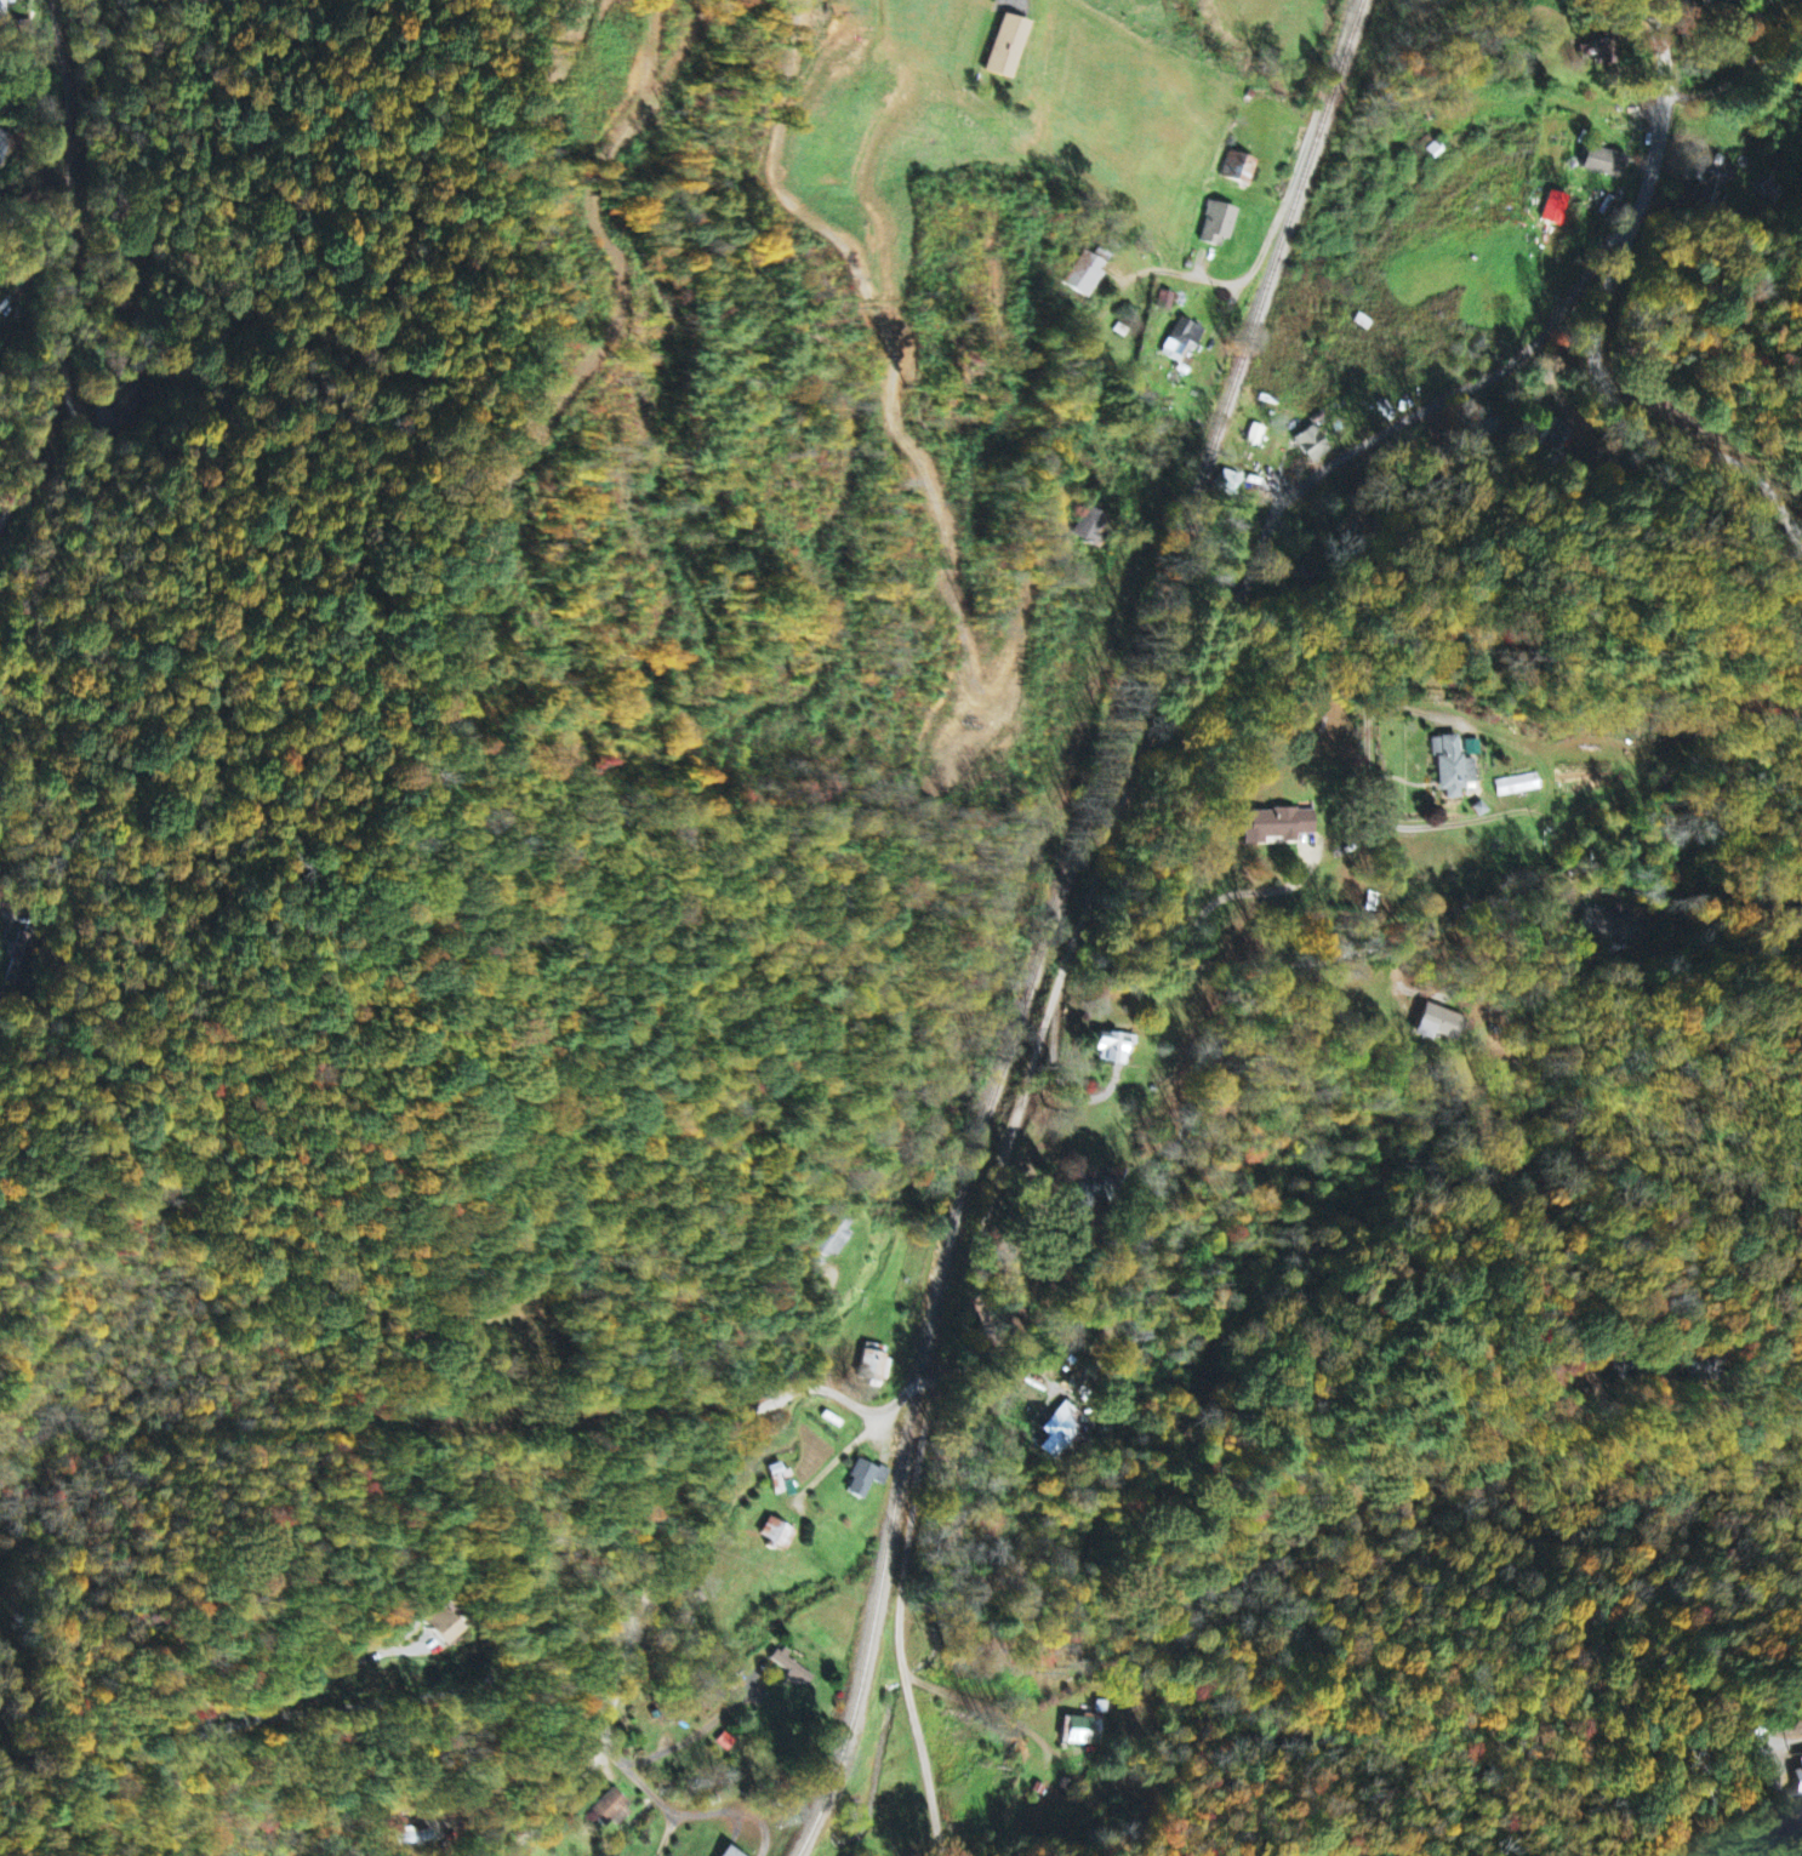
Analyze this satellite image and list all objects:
road: (1019, 2)
building: (6, 6)
building: (1007, 48)
building: (1604, 56)
building: (5, 147)
building: (1433, 152)
building: (1604, 164)
building: (1239, 170)
building: (1716, 181)
building: (1218, 227)
road: (69, 269)
building: (1089, 275)
road: (1211, 279)
road: (1601, 315)
building: (1182, 348)
building: (125, 401)
building: (1311, 446)
building: (1230, 481)
road: (1435, 535)
building: (1452, 770)
building: (1517, 786)
building: (1277, 824)
railway: (1055, 921)
building: (1606, 925)
building: (1438, 1023)
building: (1113, 1047)
road: (1170, 1096)
road: (1033, 1102)
park: (520, 1337)
building: (871, 1364)
building: (1066, 1429)
building: (865, 1479)
building: (776, 1535)
road: (900, 1615)
building: (445, 1627)
building: (791, 1671)
road: (297, 1713)
building: (1085, 1731)
road: (1798, 1746)
road: (632, 1771)
building: (1797, 1781)
road: (660, 1800)
road: (669, 1812)
building: (729, 1852)

